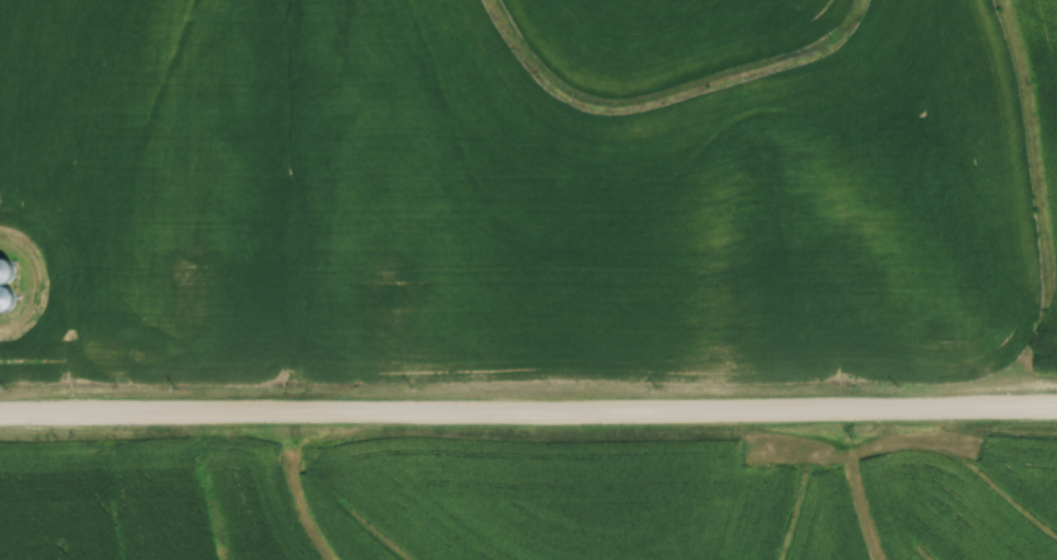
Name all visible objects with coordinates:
building: (10, 299)
road: (528, 413)

